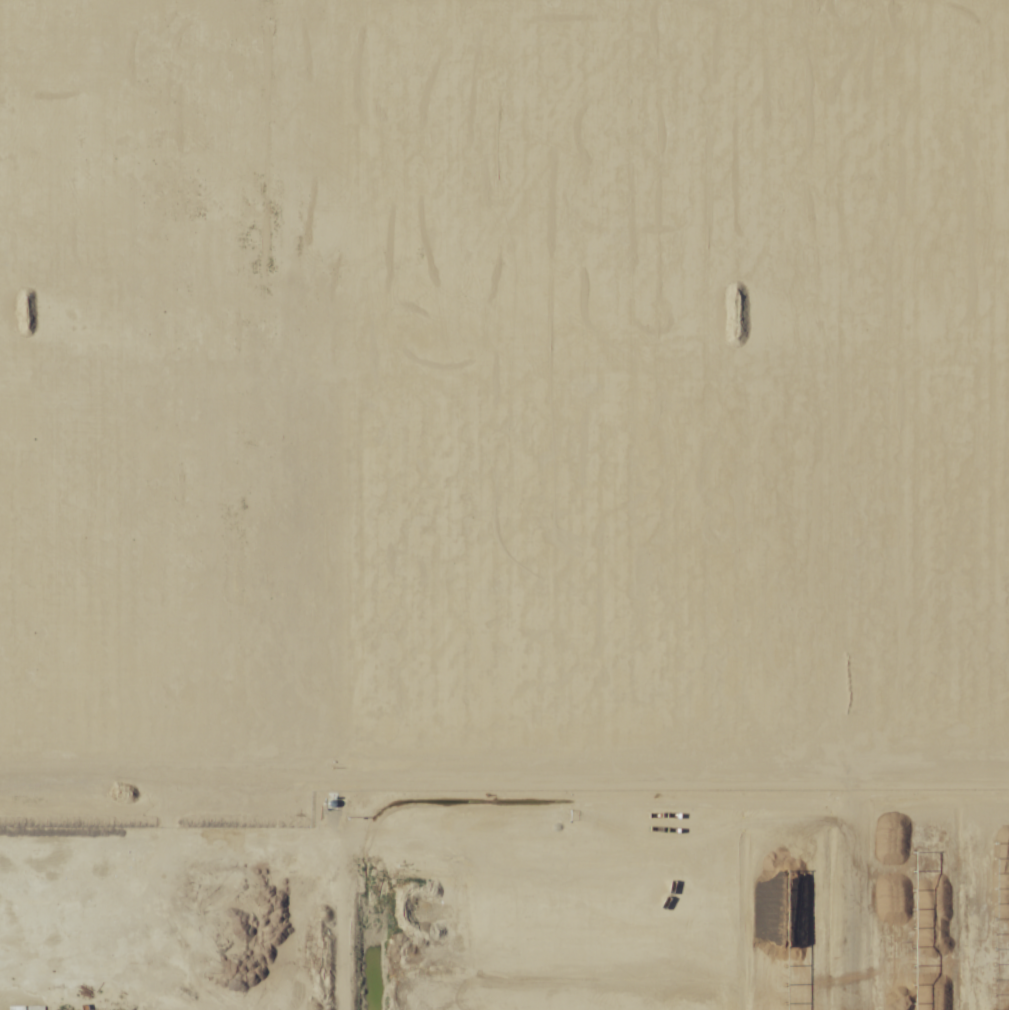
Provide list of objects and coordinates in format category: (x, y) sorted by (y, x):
building: (882, 923)
building: (942, 991)

